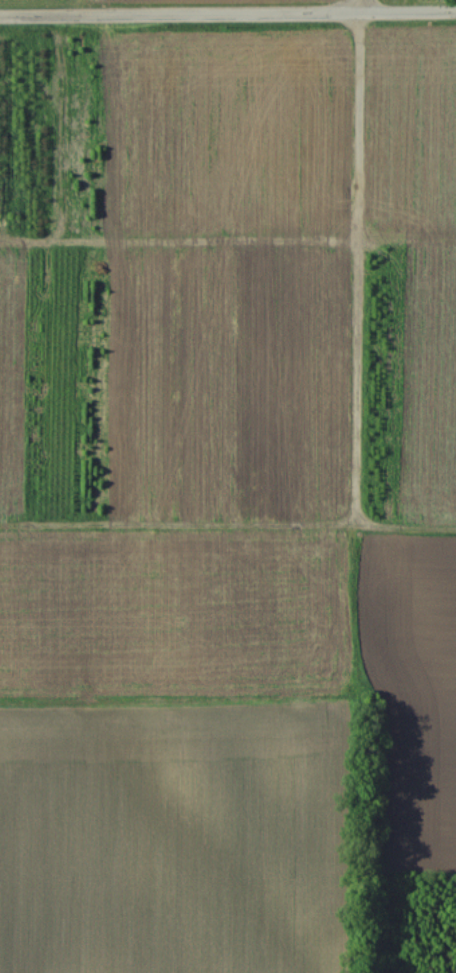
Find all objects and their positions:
road: (367, 6)
road: (227, 12)

